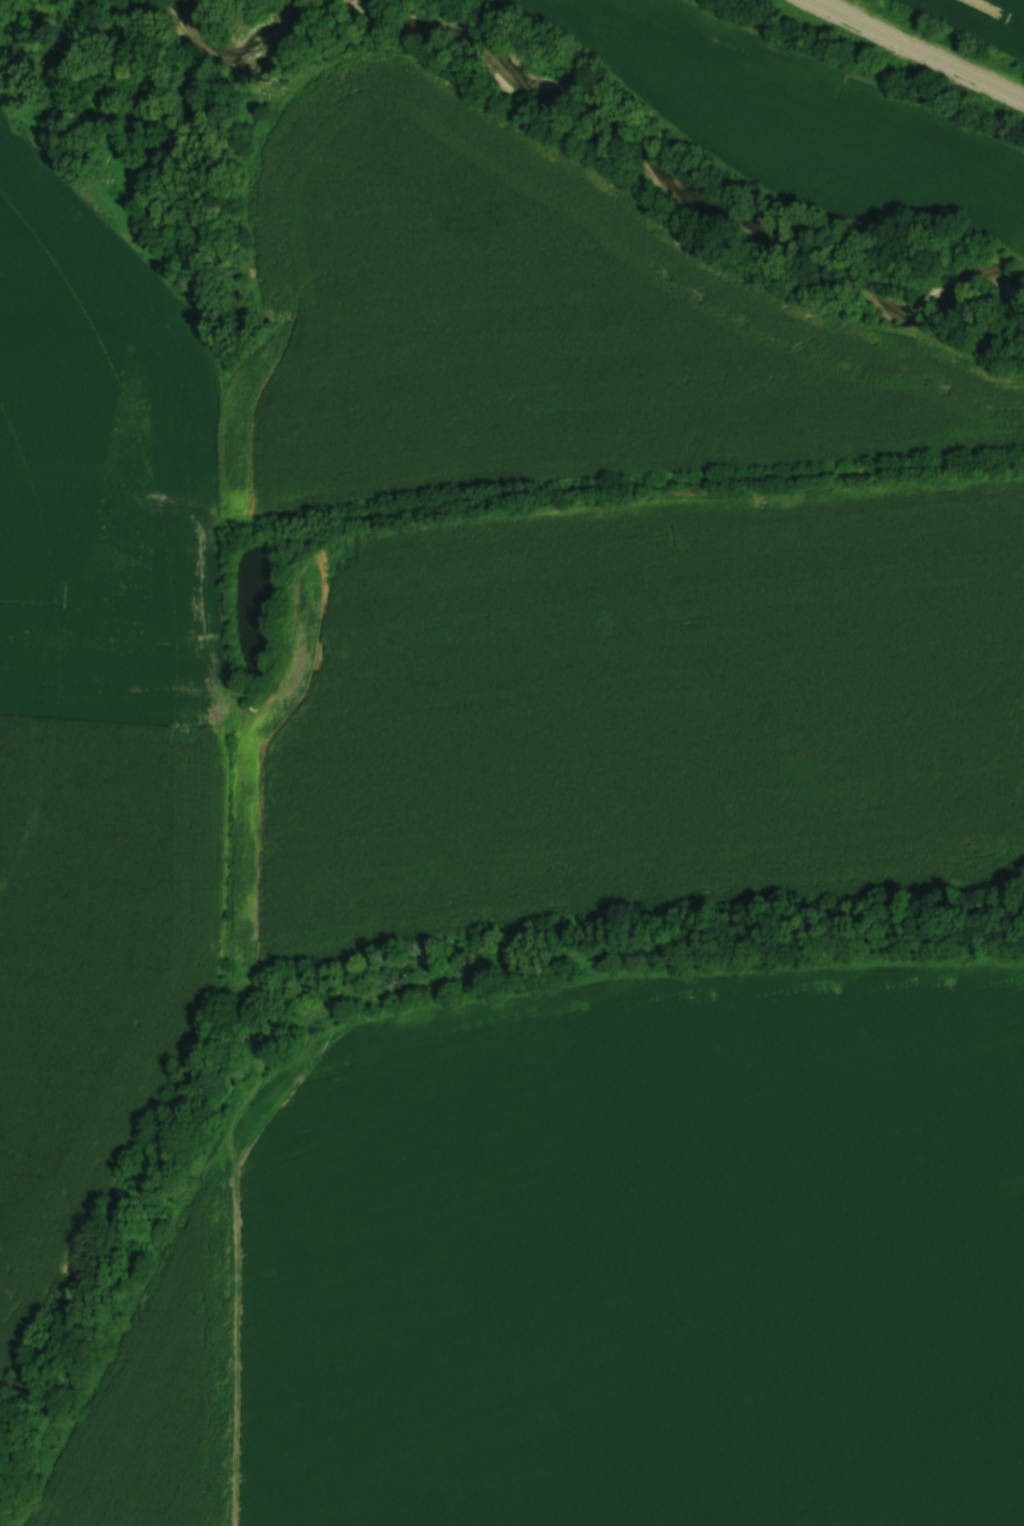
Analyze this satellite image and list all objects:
railway: (919, 48)

